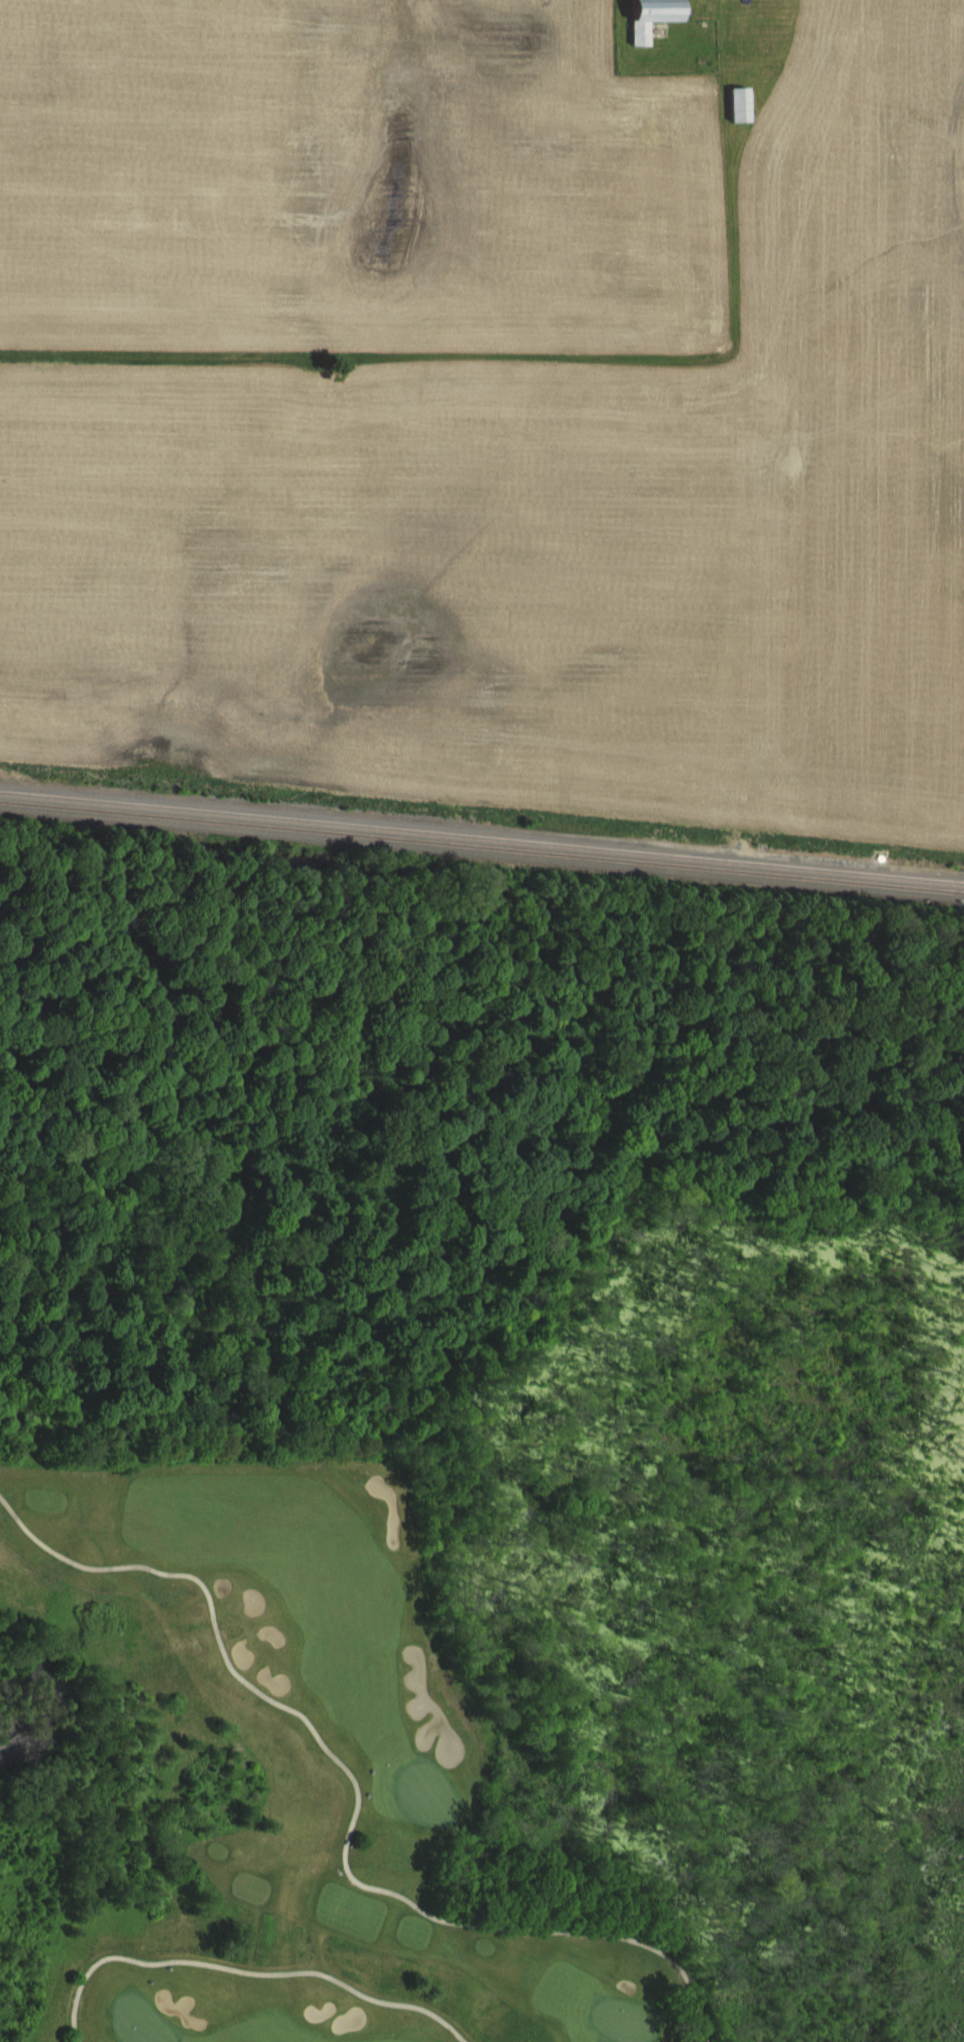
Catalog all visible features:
building: (646, 17)
building: (747, 44)
building: (735, 104)
railway: (482, 836)
railway: (482, 846)
road: (218, 1640)
road: (551, 1929)
road: (245, 1971)

